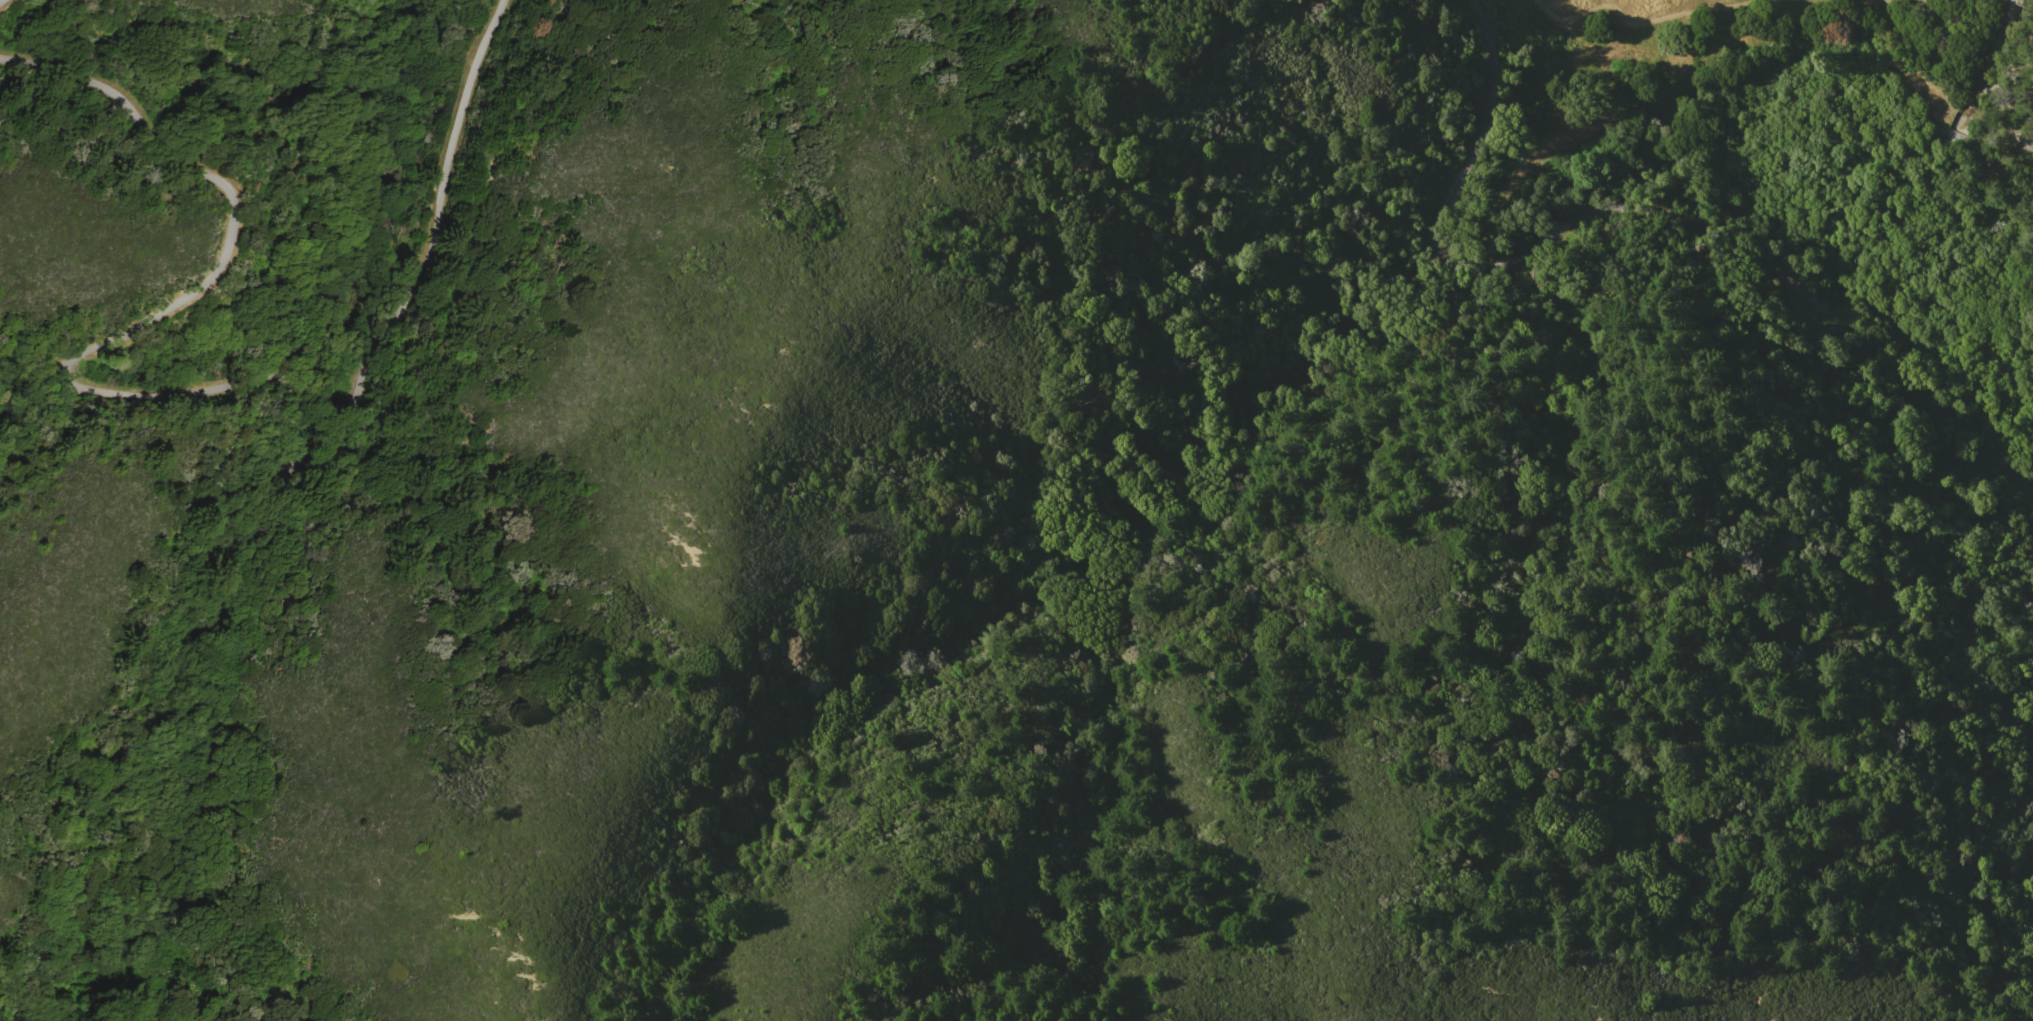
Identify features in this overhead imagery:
road: (0, 0)
road: (1647, 212)
road: (165, 389)

